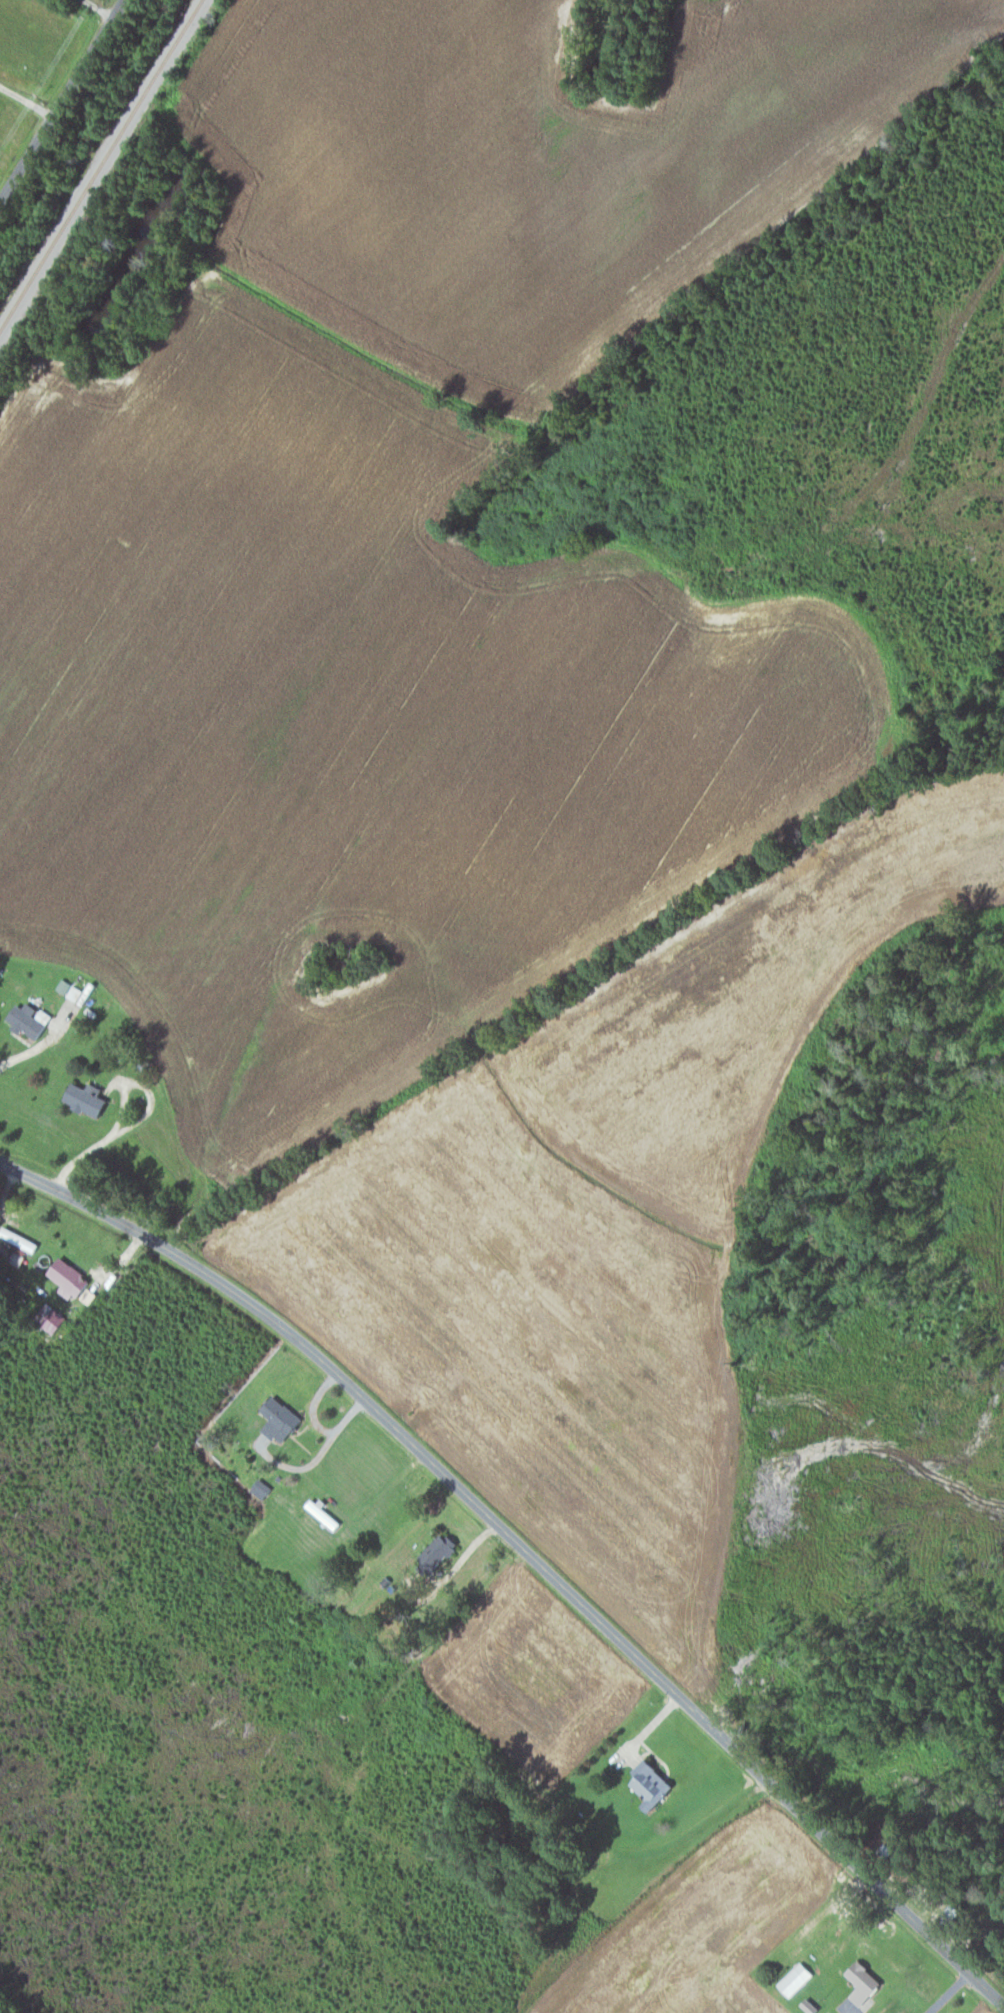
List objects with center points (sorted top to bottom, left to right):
road: (95, 10)
road: (27, 101)
road: (63, 102)
railway: (101, 165)
building: (25, 1019)
road: (37, 1045)
building: (81, 1097)
building: (64, 1277)
building: (275, 1418)
road: (524, 1549)
building: (431, 1553)
building: (645, 1784)
building: (791, 1979)
building: (858, 1982)

